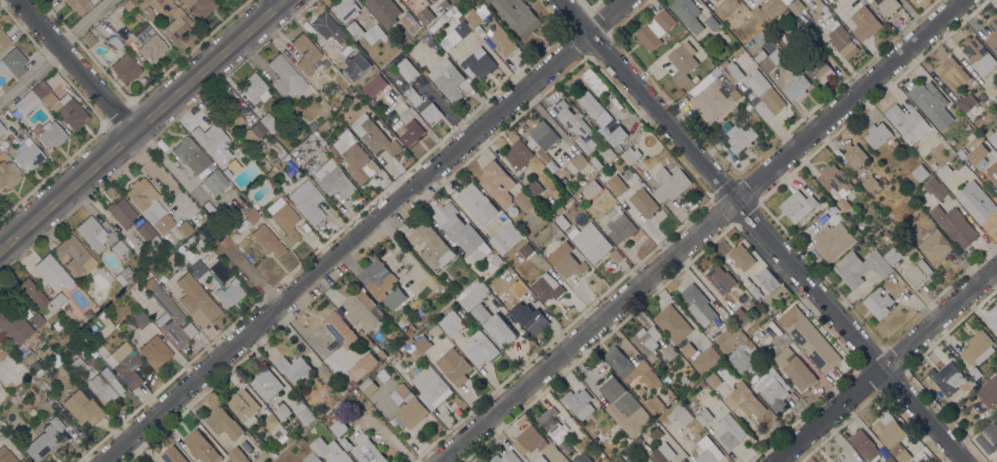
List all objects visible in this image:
building: (434, 0)
building: (452, 0)
building: (715, 0)
building: (717, 0)
building: (444, 3)
building: (819, 3)
building: (79, 5)
building: (127, 5)
building: (796, 6)
building: (888, 6)
building: (200, 7)
building: (824, 8)
building: (345, 9)
building: (147, 10)
building: (768, 10)
building: (384, 11)
building: (688, 14)
building: (425, 15)
building: (518, 15)
building: (477, 17)
building: (409, 21)
building: (710, 22)
building: (864, 22)
building: (176, 24)
building: (324, 25)
building: (433, 27)
building: (654, 29)
building: (796, 29)
building: (366, 32)
building: (992, 33)
building: (427, 35)
building: (500, 37)
building: (88, 39)
building: (3, 40)
building: (843, 41)
building: (148, 42)
building: (116, 43)
road: (57, 51)
building: (453, 52)
building: (306, 54)
building: (332, 54)
building: (979, 54)
building: (768, 58)
building: (683, 62)
building: (13, 63)
building: (322, 64)
building: (126, 68)
building: (368, 68)
building: (819, 68)
road: (208, 69)
building: (407, 69)
building: (951, 72)
building: (286, 77)
building: (450, 80)
building: (972, 82)
building: (375, 85)
building: (797, 86)
building: (255, 89)
building: (716, 90)
building: (992, 90)
building: (764, 95)
building: (32, 97)
building: (372, 101)
building: (588, 103)
building: (931, 103)
building: (423, 105)
building: (970, 106)
building: (66, 111)
building: (231, 112)
building: (570, 117)
building: (603, 118)
building: (905, 119)
building: (269, 123)
building: (312, 126)
building: (325, 126)
building: (255, 131)
building: (3, 132)
building: (411, 132)
building: (49, 134)
building: (315, 134)
building: (614, 134)
building: (877, 134)
building: (972, 134)
building: (374, 136)
building: (992, 136)
building: (740, 137)
building: (12, 139)
building: (638, 141)
building: (213, 142)
building: (544, 142)
building: (585, 144)
building: (277, 149)
road: (116, 150)
building: (977, 152)
building: (607, 153)
road: (143, 154)
building: (518, 154)
building: (27, 155)
building: (189, 155)
building: (630, 155)
building: (353, 156)
building: (854, 156)
building: (579, 161)
building: (596, 162)
building: (264, 163)
building: (288, 163)
building: (965, 169)
building: (945, 170)
building: (225, 171)
building: (920, 172)
building: (604, 173)
building: (992, 174)
building: (8, 175)
building: (834, 179)
building: (334, 180)
building: (498, 182)
building: (215, 183)
building: (616, 183)
building: (671, 183)
building: (871, 183)
building: (534, 188)
building: (935, 188)
building: (996, 195)
building: (577, 197)
building: (145, 200)
building: (308, 201)
building: (524, 201)
building: (644, 202)
building: (976, 202)
building: (478, 203)
building: (843, 204)
building: (797, 205)
building: (254, 206)
road: (51, 208)
building: (833, 208)
building: (559, 210)
building: (853, 212)
building: (122, 213)
building: (251, 215)
building: (285, 219)
building: (561, 220)
building: (619, 224)
building: (954, 224)
building: (183, 229)
road: (366, 230)
road: (699, 230)
road: (762, 230)
building: (461, 231)
building: (92, 233)
building: (886, 233)
building: (148, 235)
building: (505, 238)
building: (833, 240)
building: (268, 241)
building: (592, 242)
building: (431, 245)
building: (938, 246)
building: (119, 248)
building: (526, 249)
building: (616, 255)
building: (893, 255)
building: (75, 256)
building: (742, 257)
building: (497, 260)
building: (566, 261)
building: (862, 267)
building: (199, 271)
building: (52, 272)
building: (918, 272)
building: (377, 278)
building: (720, 278)
building: (120, 280)
building: (163, 280)
building: (767, 280)
building: (518, 288)
building: (546, 288)
building: (754, 290)
building: (28, 292)
building: (473, 294)
building: (229, 295)
building: (393, 297)
building: (60, 301)
building: (196, 301)
building: (877, 302)
building: (360, 307)
building: (701, 307)
building: (25, 312)
building: (481, 313)
building: (739, 315)
building: (102, 317)
building: (171, 318)
building: (530, 318)
building: (404, 319)
building: (993, 319)
building: (36, 320)
building: (140, 320)
building: (451, 323)
building: (672, 323)
building: (430, 325)
building: (57, 326)
building: (14, 328)
building: (340, 329)
building: (500, 330)
building: (741, 336)
building: (808, 338)
building: (647, 342)
building: (422, 344)
building: (408, 345)
building: (479, 346)
building: (977, 347)
building: (688, 349)
building: (3, 350)
building: (155, 351)
building: (669, 352)
building: (47, 353)
building: (746, 358)
building: (706, 359)
building: (367, 361)
building: (30, 362)
building: (55, 363)
building: (126, 365)
road: (886, 365)
building: (454, 366)
building: (631, 367)
building: (294, 368)
building: (795, 368)
building: (83, 372)
building: (975, 372)
building: (383, 374)
building: (947, 375)
building: (667, 379)
building: (685, 379)
building: (713, 379)
building: (353, 380)
building: (973, 383)
building: (266, 384)
building: (702, 384)
building: (368, 386)
building: (431, 386)
building: (110, 387)
building: (341, 389)
building: (641, 389)
building: (773, 389)
building: (988, 391)
building: (404, 392)
building: (20, 394)
building: (41, 394)
building: (744, 399)
building: (13, 400)
building: (331, 402)
building: (580, 402)
building: (621, 404)
building: (243, 405)
building: (654, 405)
building: (83, 408)
building: (281, 409)
building: (318, 412)
building: (411, 412)
building: (303, 413)
building: (682, 413)
building: (333, 416)
building: (704, 416)
building: (996, 419)
building: (270, 420)
building: (224, 423)
building: (552, 424)
building: (339, 427)
building: (889, 429)
building: (730, 431)
building: (280, 433)
building: (988, 437)
building: (529, 438)
building: (597, 438)
building: (627, 439)
building: (44, 440)
building: (637, 440)
building: (346, 443)
building: (864, 444)
building: (632, 446)
building: (201, 447)
building: (330, 449)
building: (367, 450)
building: (659, 452)
building: (900, 452)
building: (272, 453)
building: (600, 453)
building: (710, 454)
building: (173, 455)
building: (237, 455)
building: (6, 456)
building: (311, 457)
building: (506, 457)
building: (582, 458)
building: (540, 459)
building: (617, 459)
building: (890, 459)
building: (228, 460)
building: (683, 460)
building: (21, 461)

